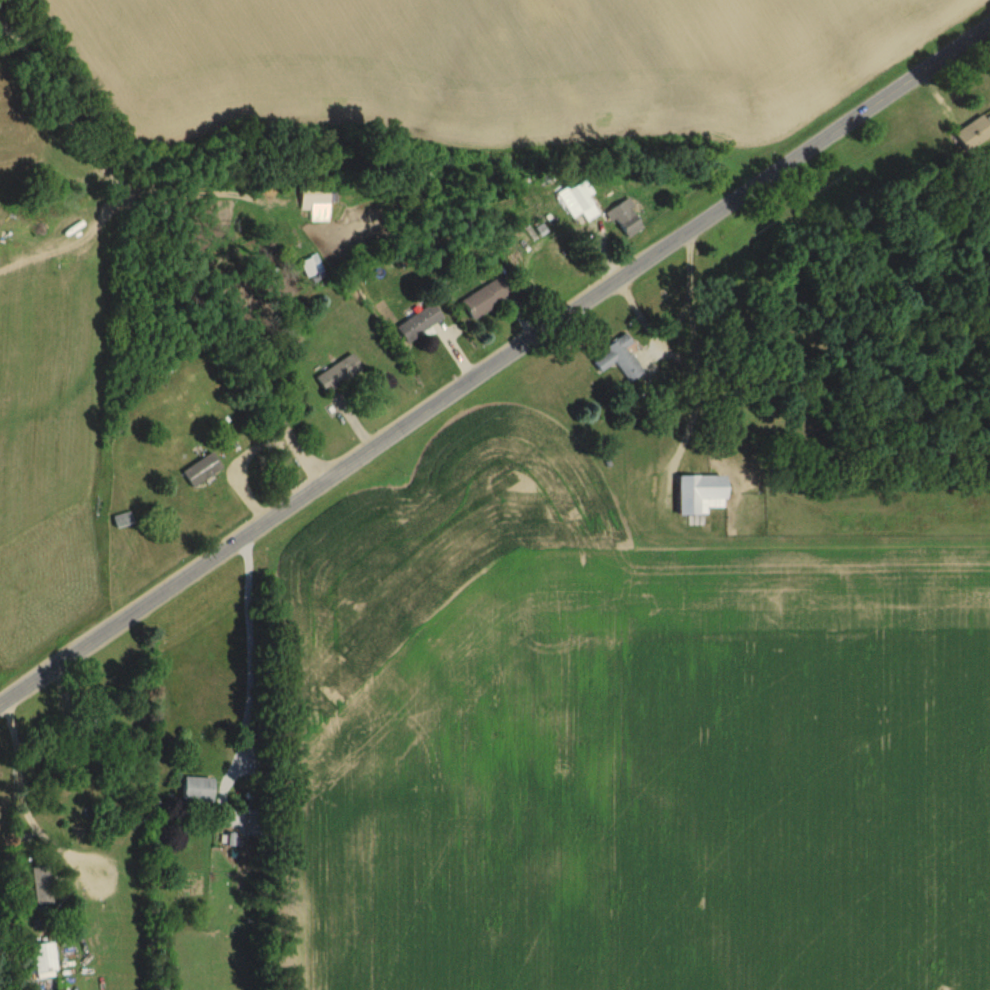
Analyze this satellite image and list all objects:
building: (972, 133)
building: (313, 196)
building: (576, 202)
building: (623, 217)
road: (160, 252)
building: (484, 297)
building: (418, 322)
building: (618, 358)
road: (495, 363)
building: (337, 373)
building: (200, 469)
building: (698, 494)
building: (120, 520)
road: (249, 663)
building: (195, 790)
road: (18, 808)
building: (40, 886)
building: (41, 957)

